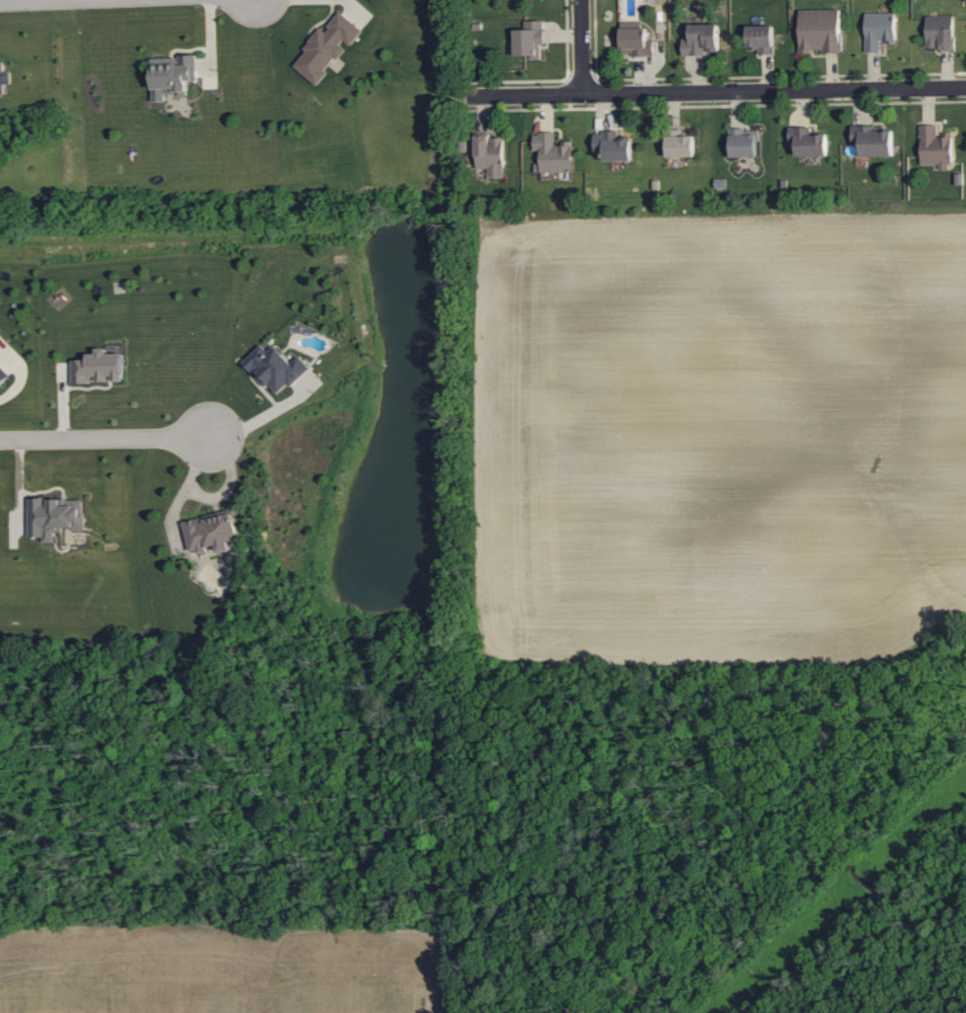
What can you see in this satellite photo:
road: (35, 1)
building: (820, 30)
building: (879, 30)
building: (940, 31)
building: (761, 38)
building: (529, 39)
building: (635, 39)
building: (701, 39)
building: (327, 47)
road: (581, 47)
building: (172, 75)
building: (4, 76)
road: (717, 92)
building: (808, 141)
building: (873, 141)
building: (744, 142)
building: (680, 144)
building: (613, 145)
building: (935, 147)
building: (490, 154)
building: (99, 367)
building: (276, 367)
building: (3, 374)
road: (262, 415)
road: (107, 439)
road: (174, 507)
building: (55, 516)
building: (214, 531)

